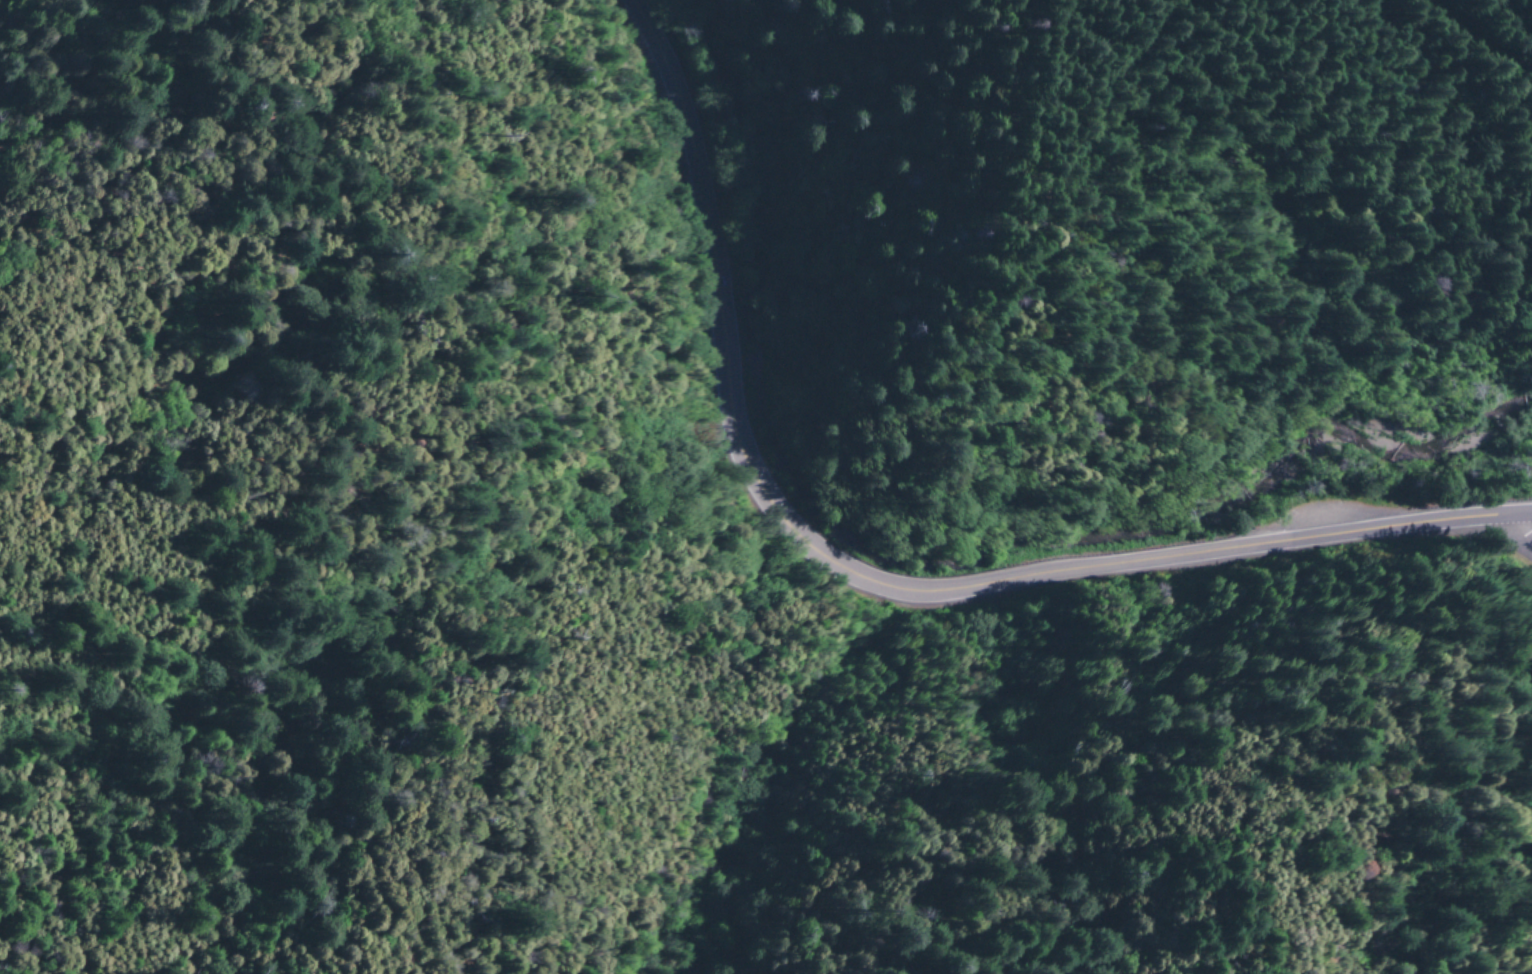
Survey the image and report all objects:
road: (871, 592)

